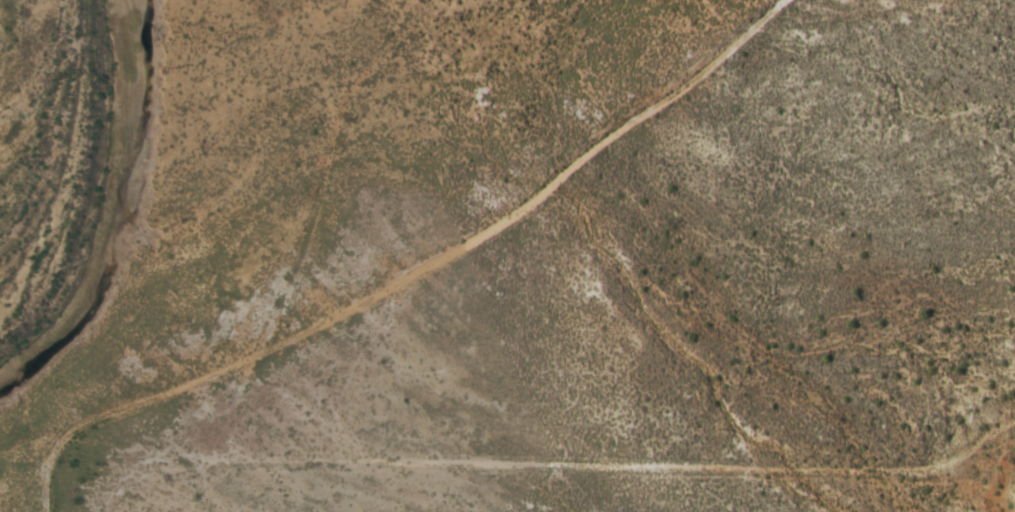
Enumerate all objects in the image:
river: (95, 207)

